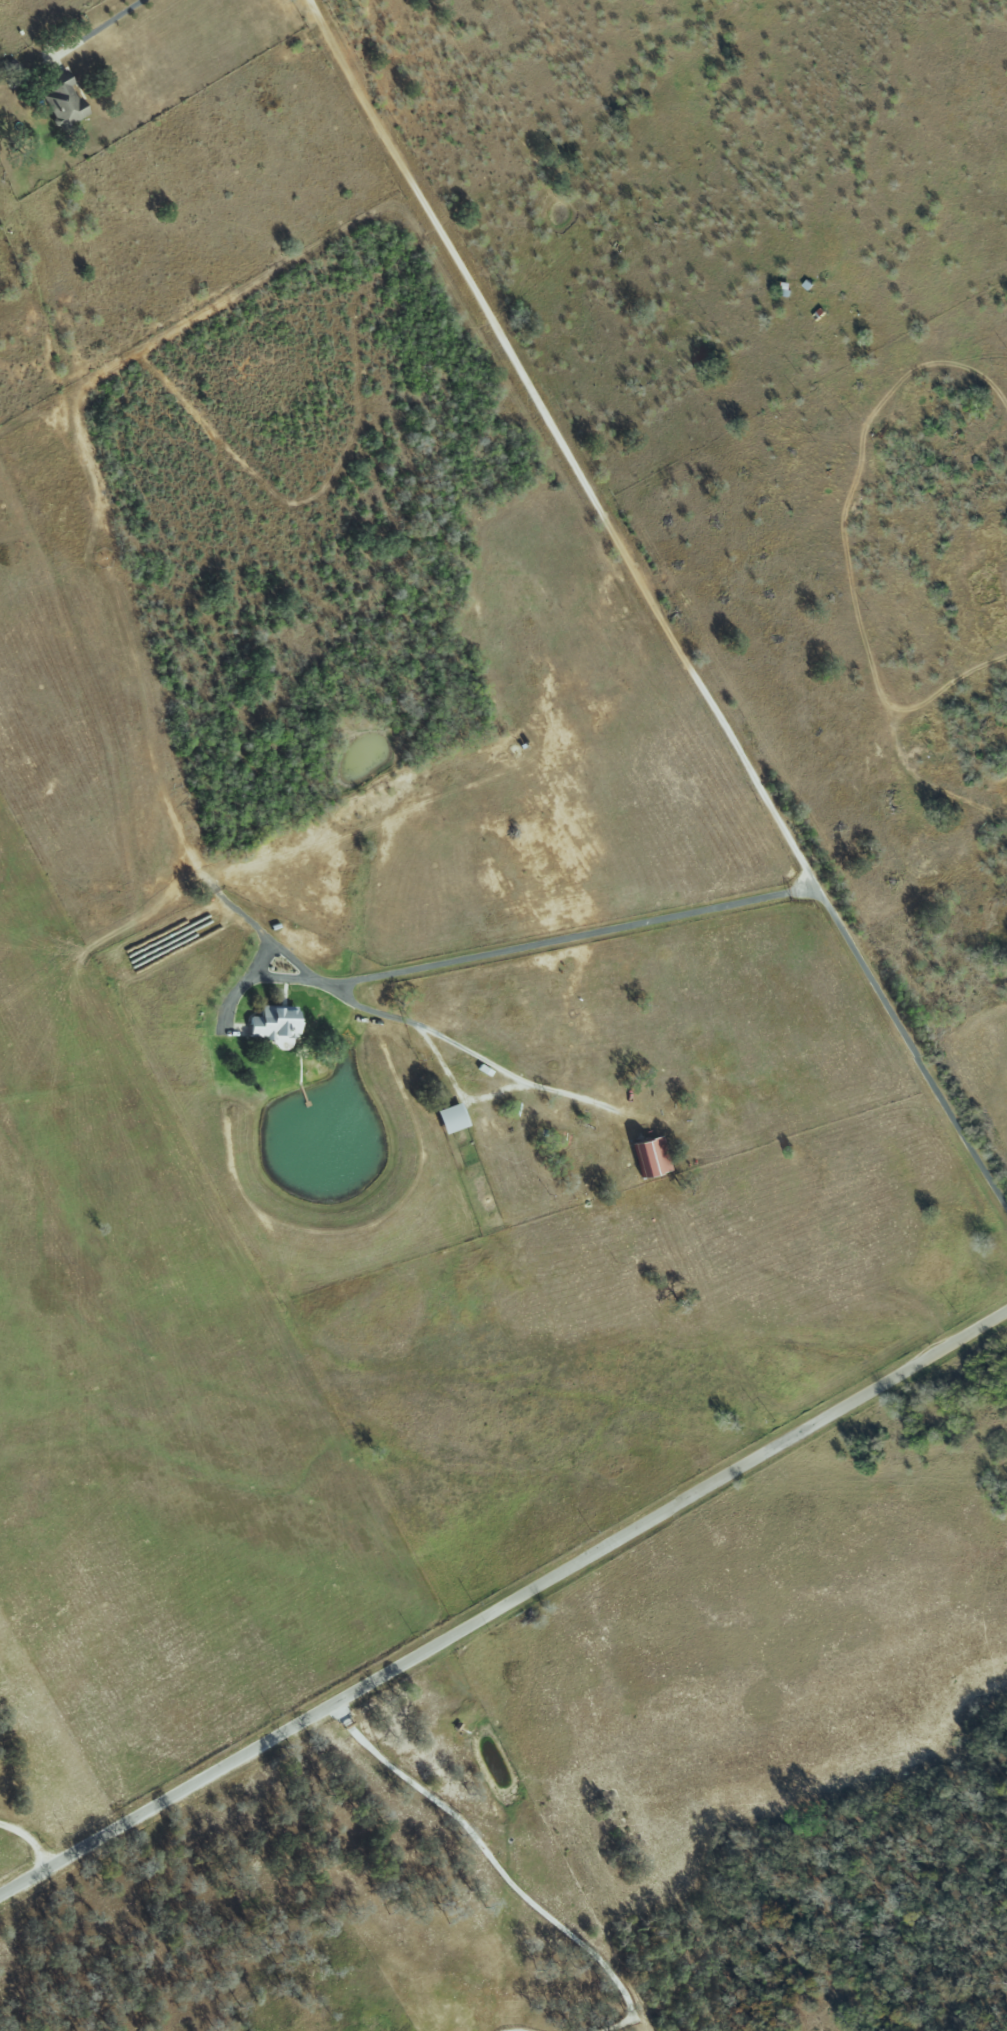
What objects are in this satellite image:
road: (95, 29)
road: (648, 606)
road: (495, 952)
building: (266, 1023)
road: (457, 1047)
building: (445, 1118)
building: (641, 1157)
road: (505, 1605)
road: (28, 1839)
road: (500, 1868)
road: (516, 2028)

